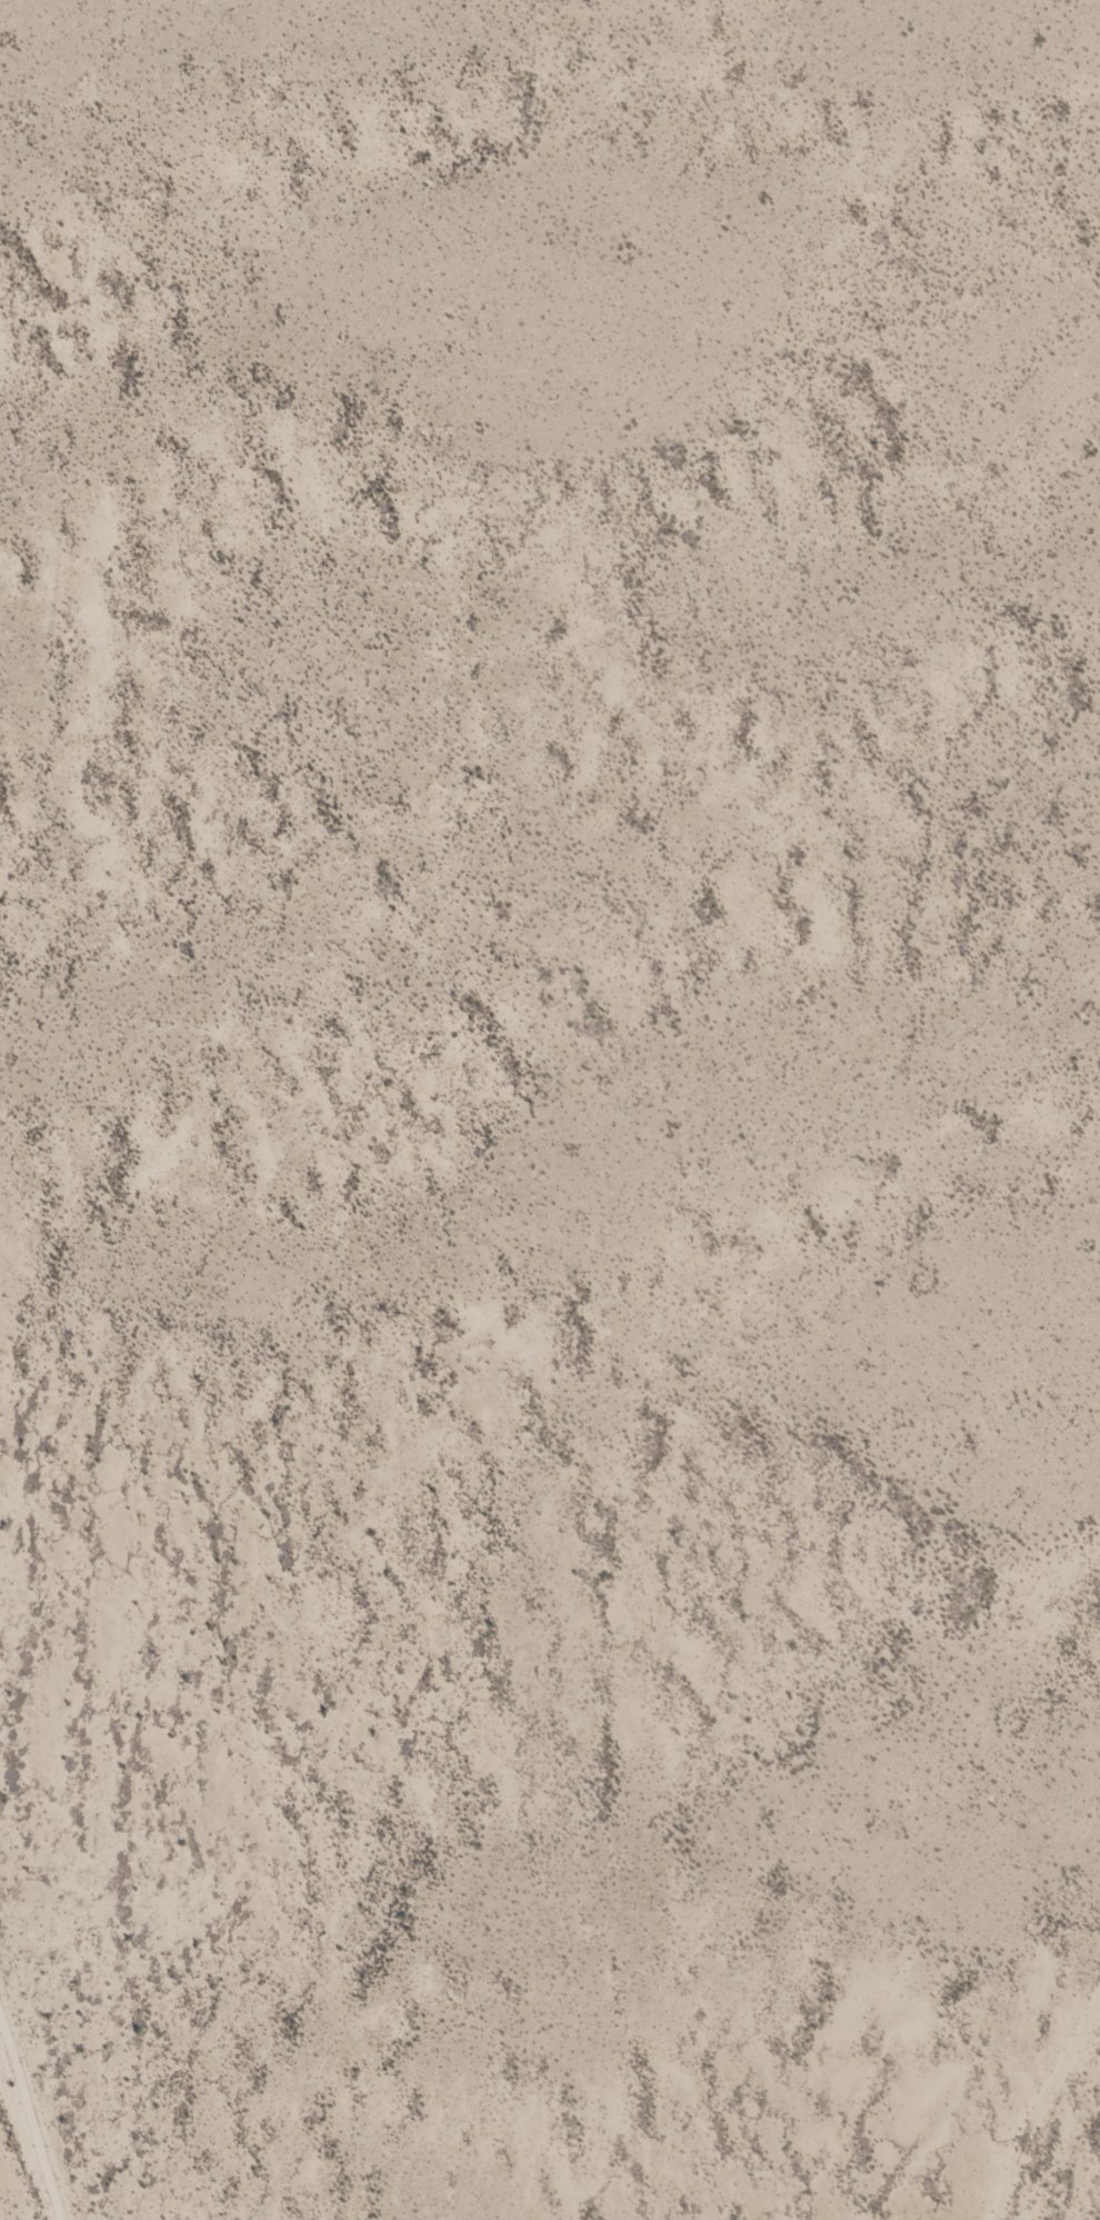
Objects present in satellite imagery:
road: (1023, 2048)
road: (37, 2116)

